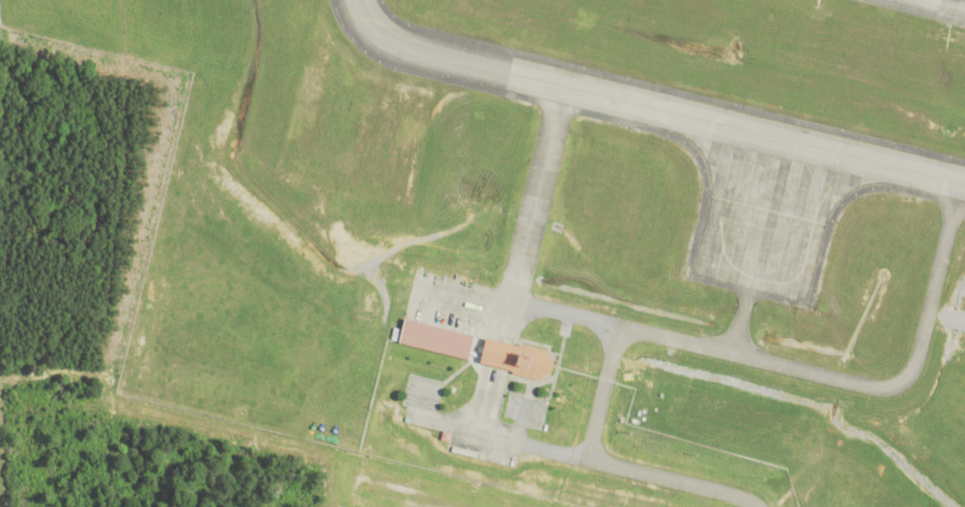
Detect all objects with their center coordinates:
airport taxiway: (650, 107)
airport apron: (766, 217)
airport: (564, 239)
airport taxiway: (742, 322)
building: (439, 340)
airport taxiway: (700, 347)
building: (520, 359)
road: (609, 466)

